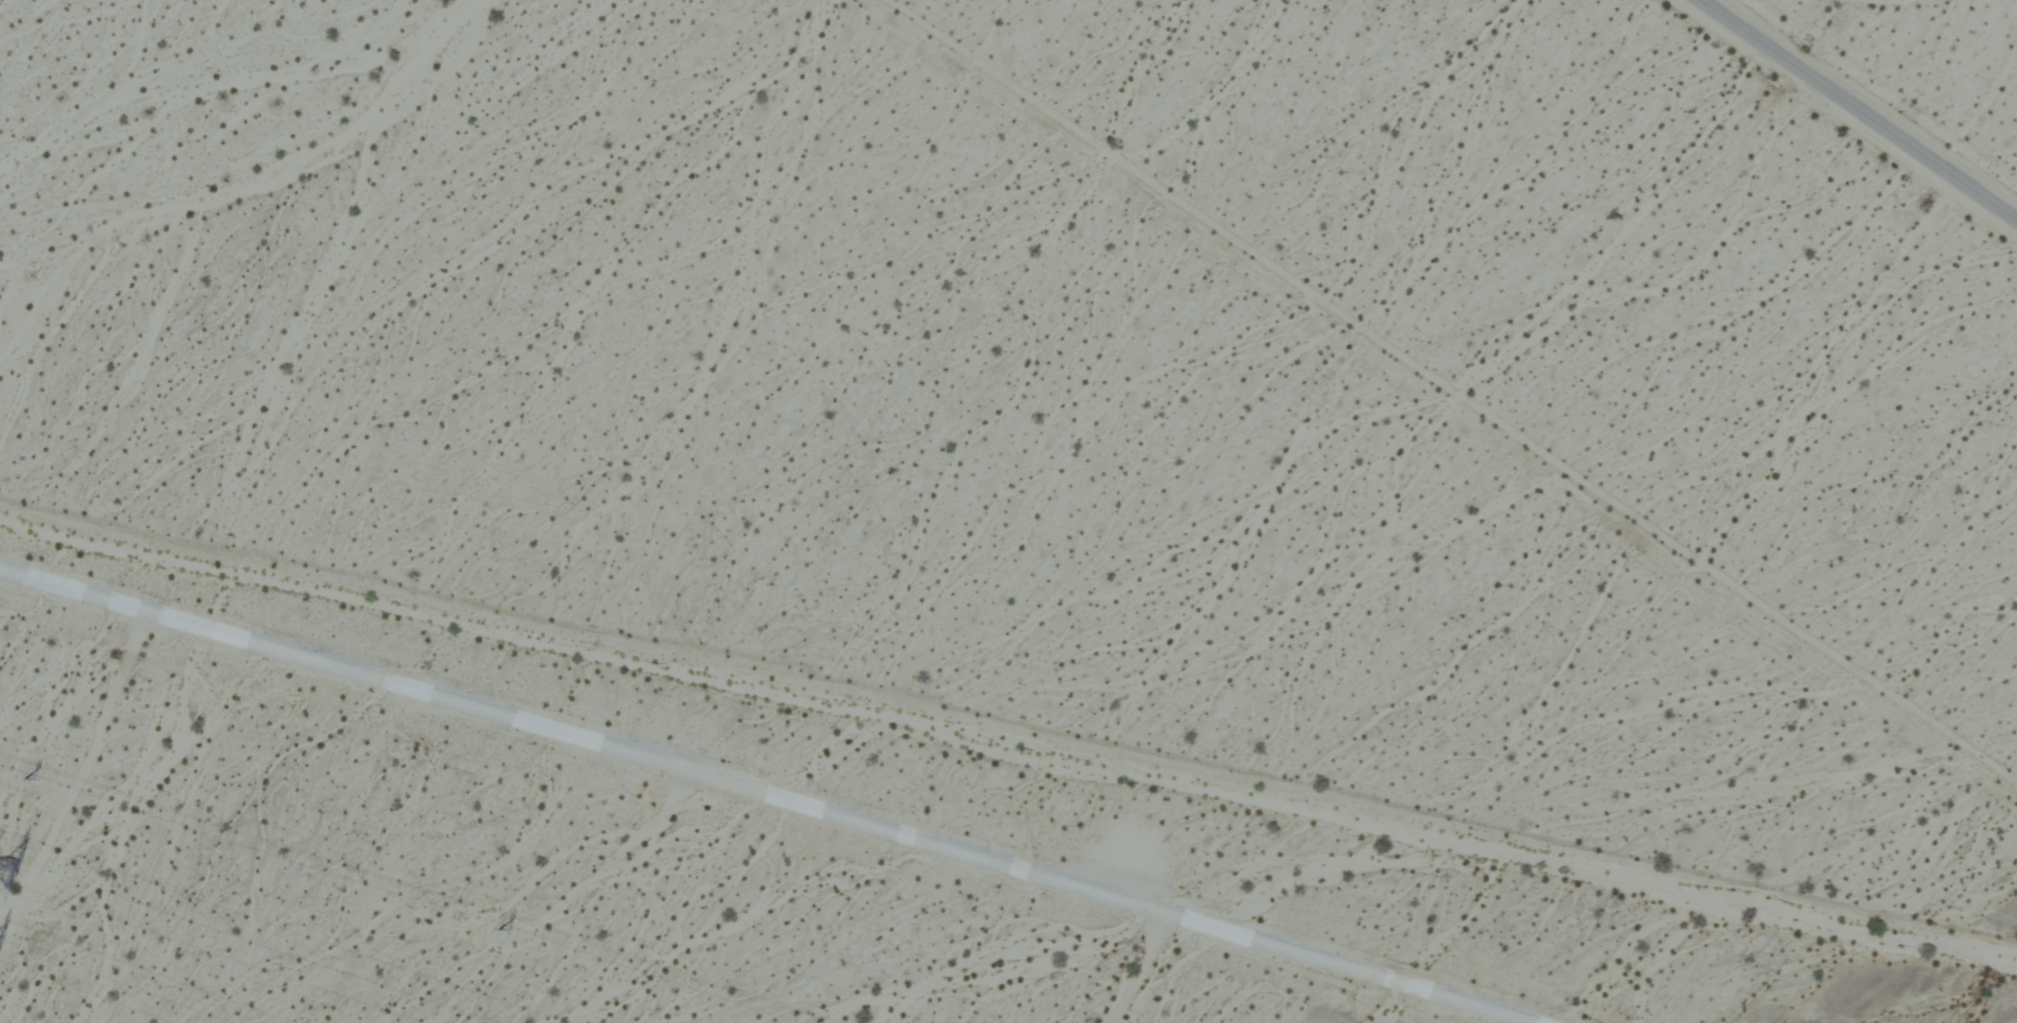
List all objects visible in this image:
road: (1861, 108)
road: (770, 790)

